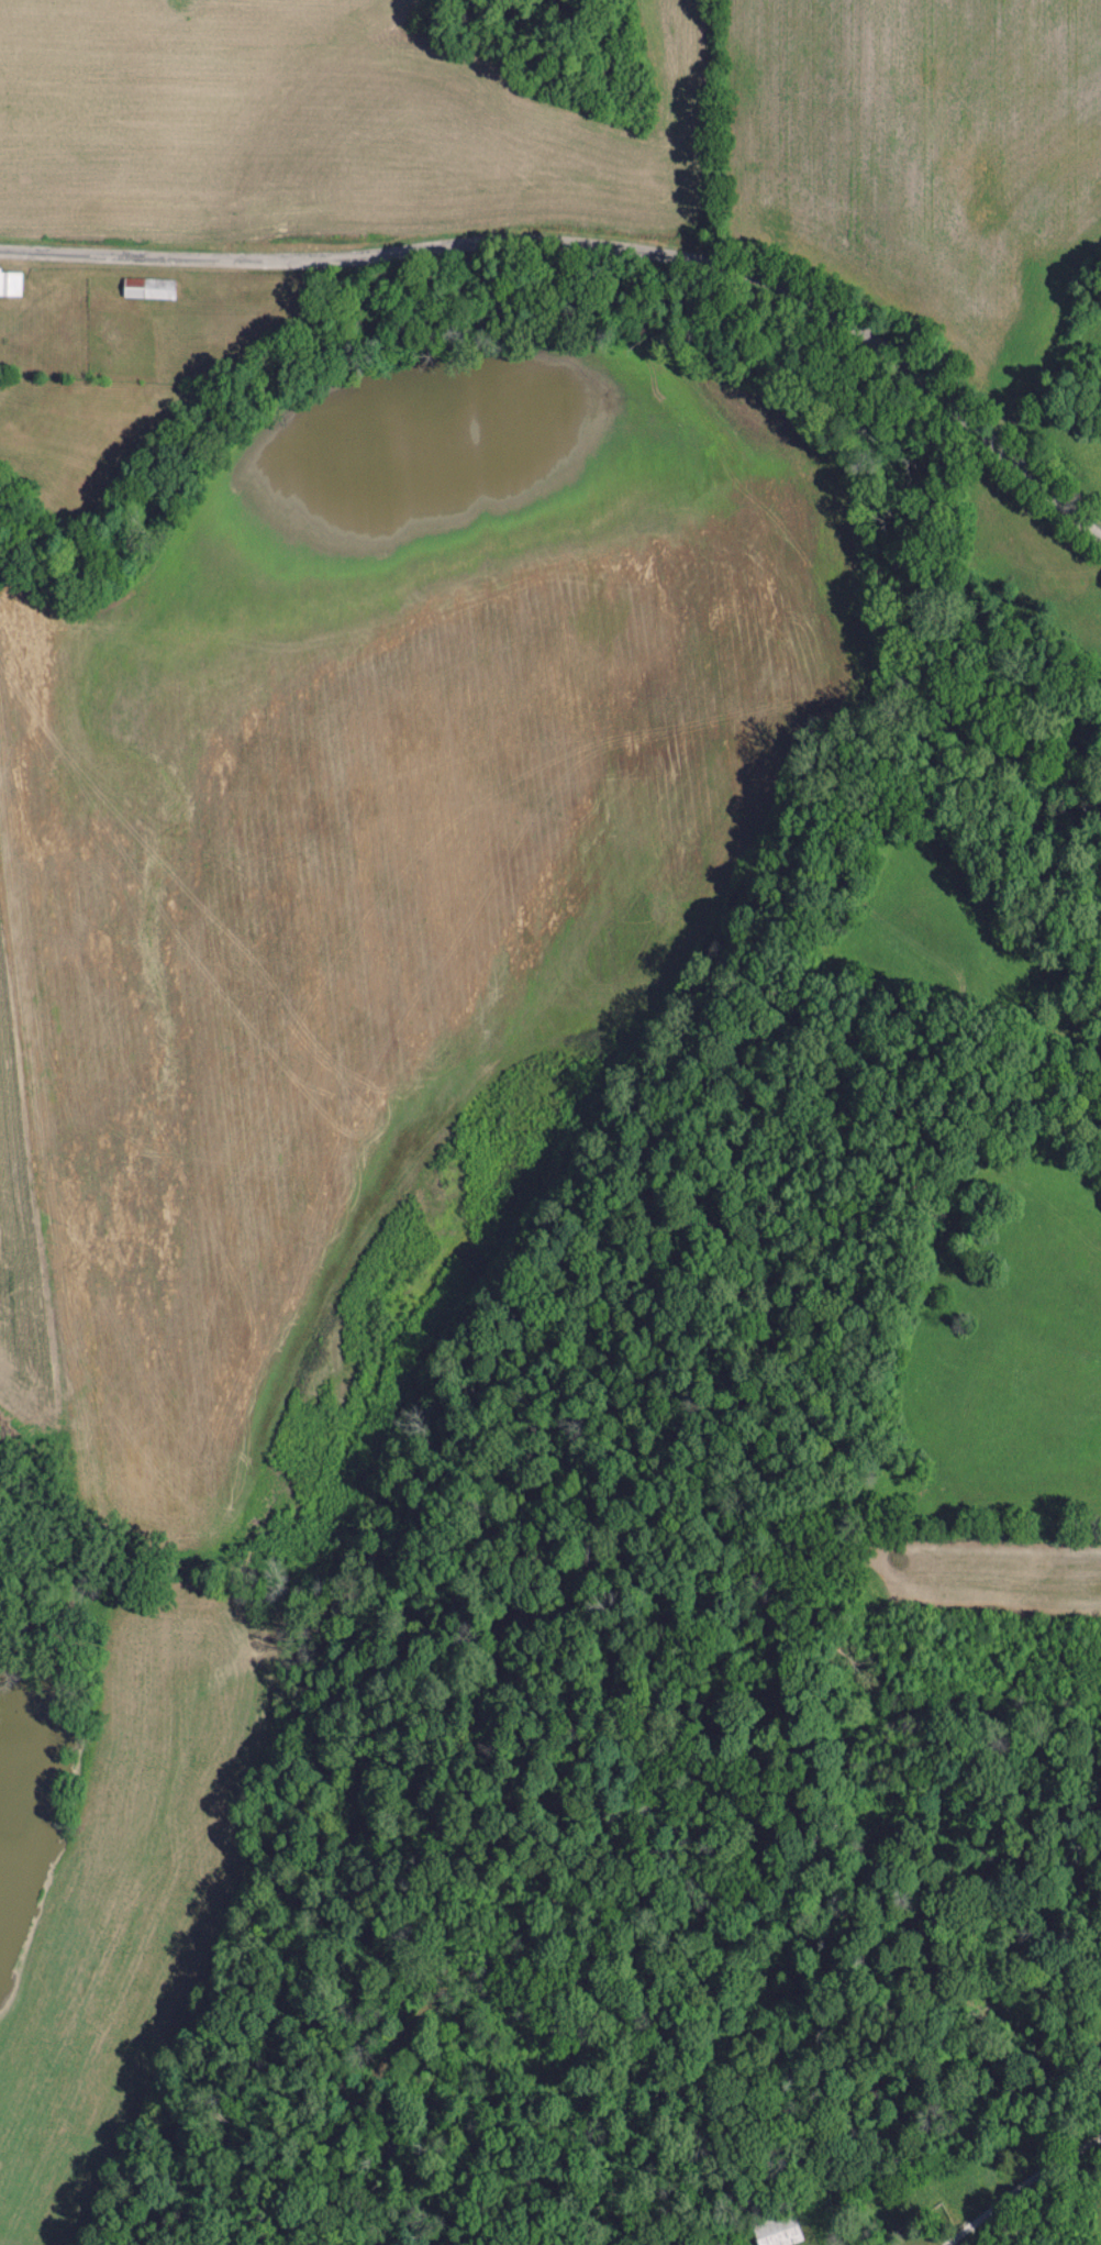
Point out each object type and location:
road: (597, 243)
building: (10, 281)
building: (149, 287)
building: (780, 2236)

